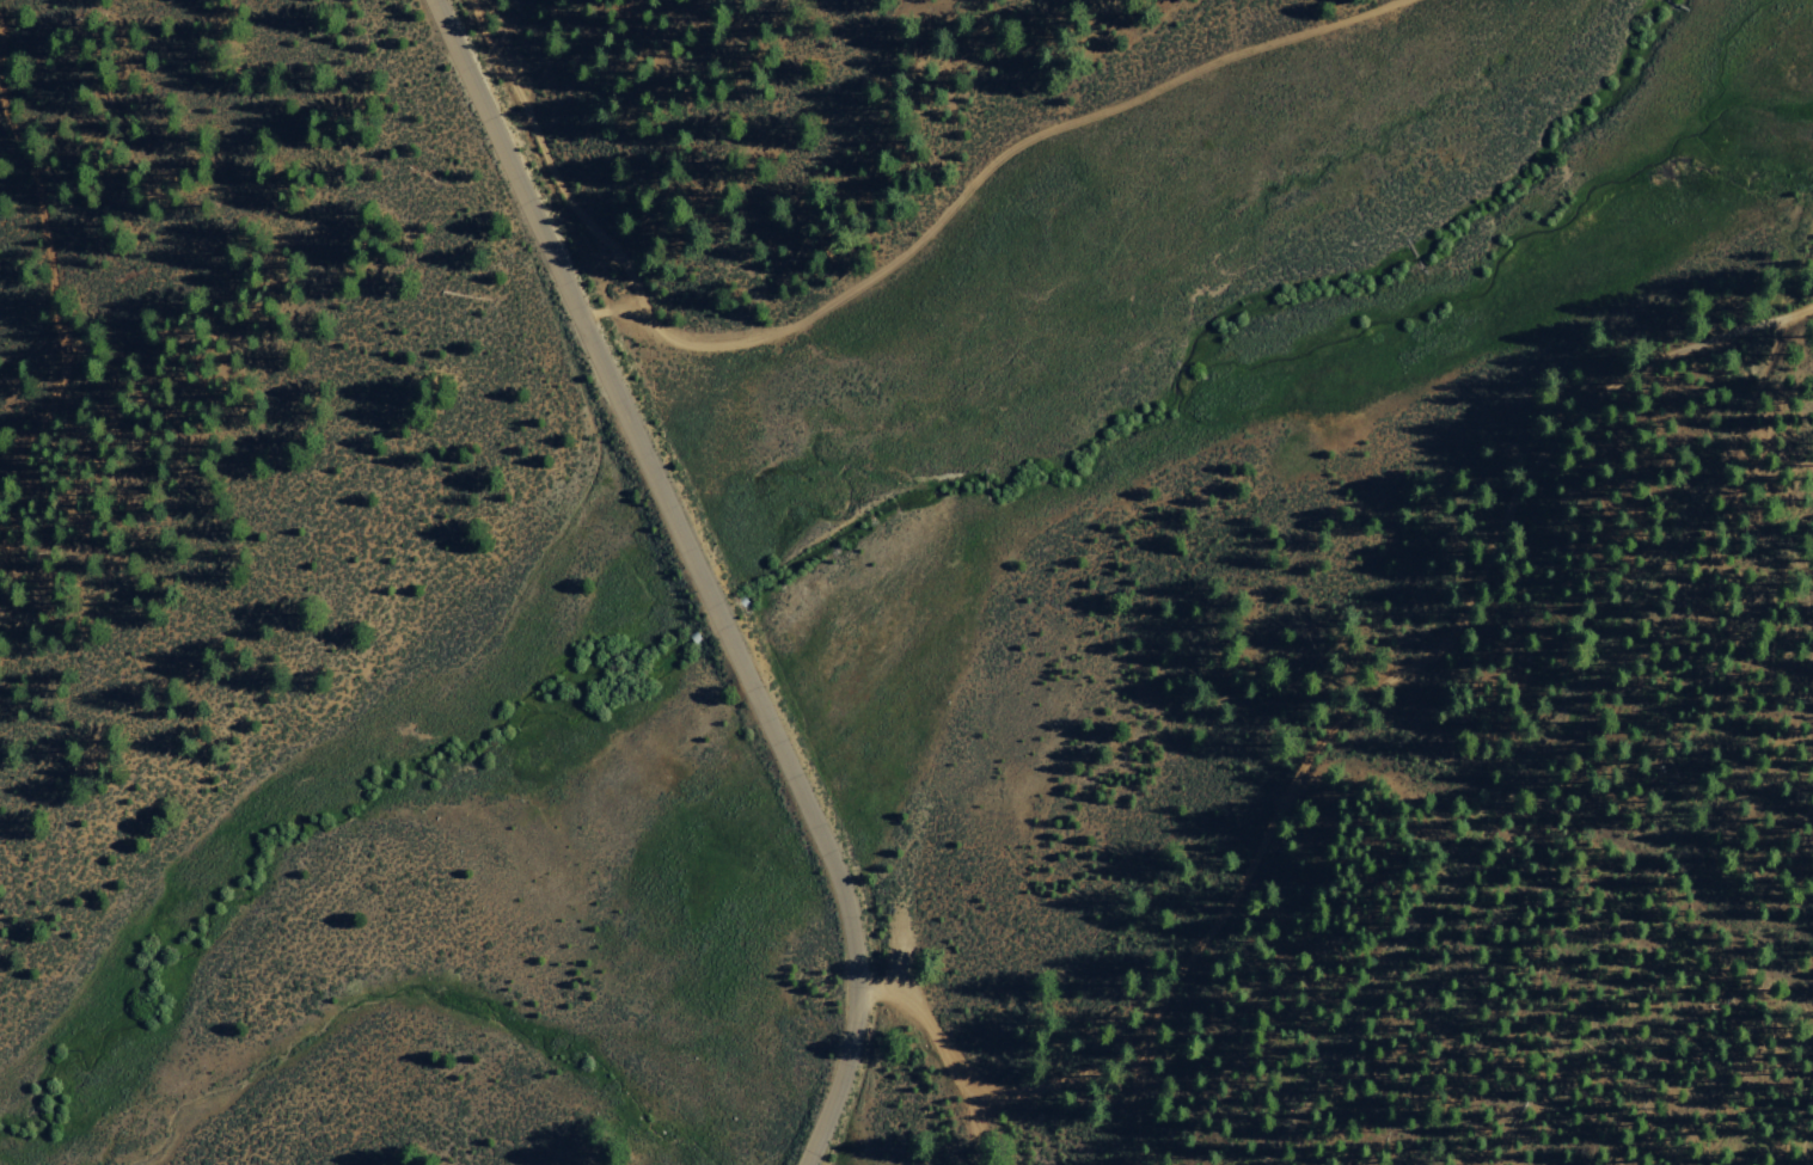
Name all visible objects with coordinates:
road: (533, 121)
road: (973, 189)
road: (51, 287)
road: (698, 572)
road: (1316, 744)
road: (1541, 744)
road: (986, 1128)
road: (1262, 1159)

